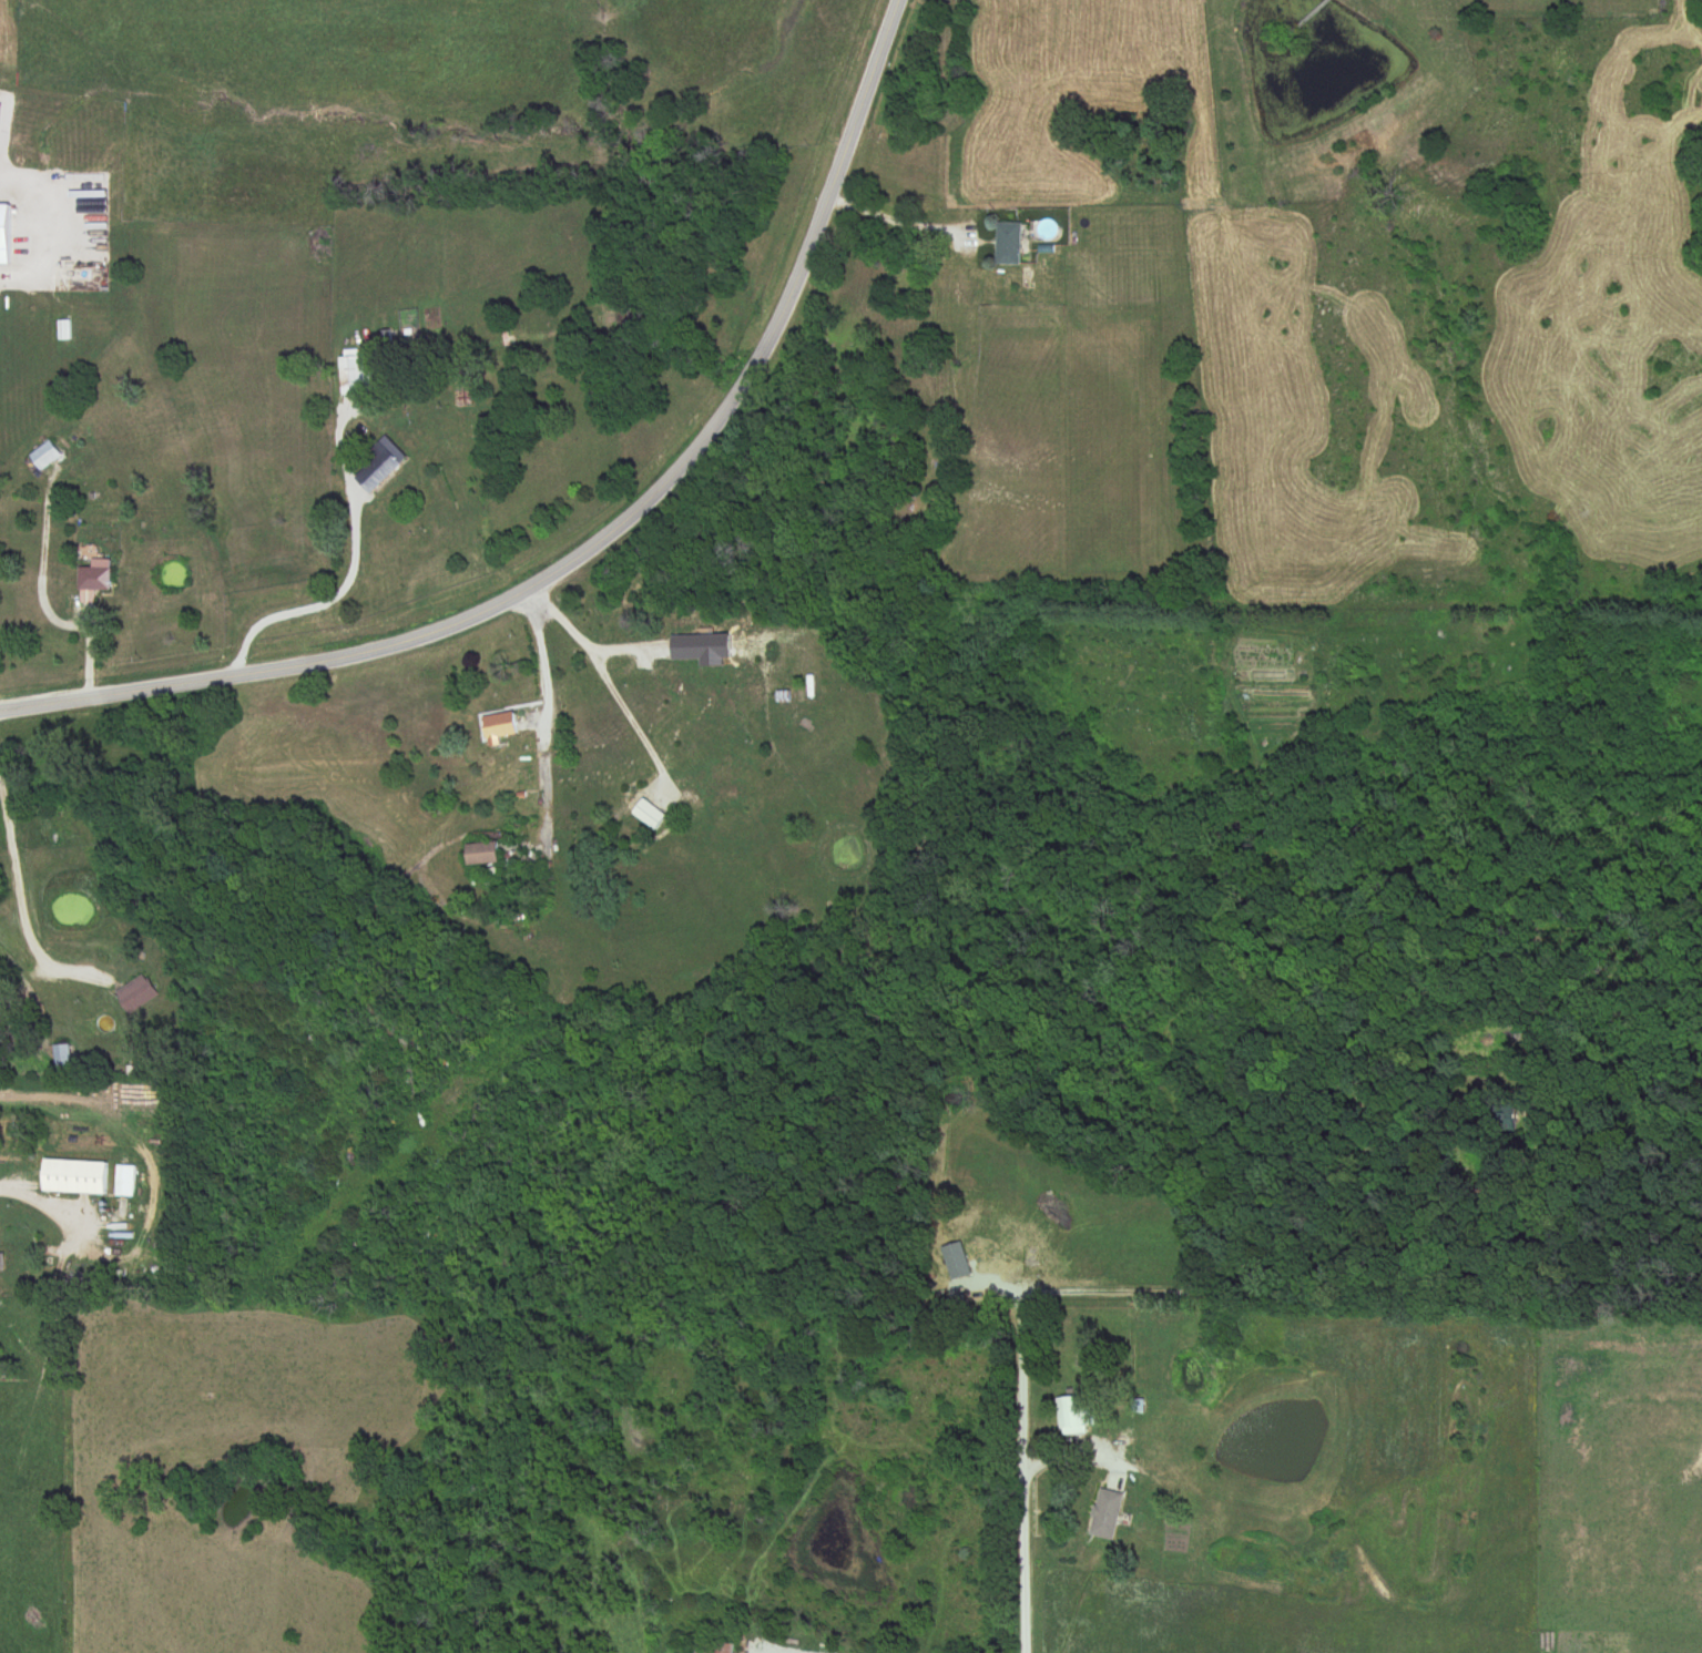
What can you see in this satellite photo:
road: (891, 221)
building: (6, 236)
building: (1008, 245)
building: (63, 333)
building: (358, 377)
building: (45, 457)
building: (384, 467)
road: (599, 542)
building: (94, 580)
road: (318, 606)
road: (608, 681)
building: (785, 698)
road: (540, 708)
building: (498, 728)
building: (648, 816)
building: (481, 856)
road: (20, 908)
building: (139, 996)
building: (63, 1059)
building: (1506, 1121)
building: (78, 1177)
building: (126, 1182)
road: (1251, 1246)
building: (2, 1261)
building: (957, 1263)
building: (1076, 1411)
road: (1035, 1475)
building: (1107, 1513)
building: (715, 1646)

